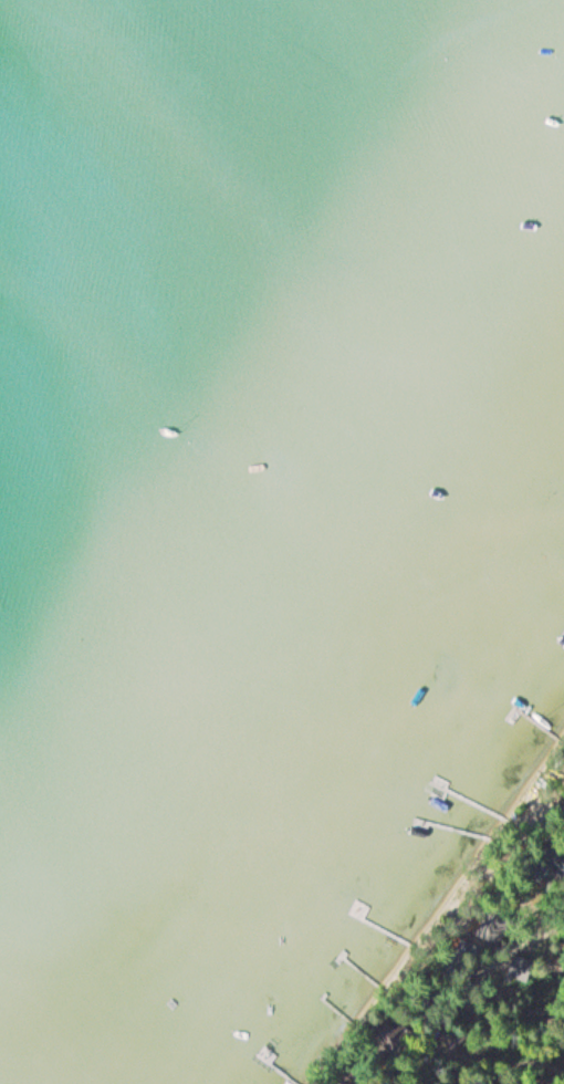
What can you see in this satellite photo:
building: (552, 866)
road: (464, 1018)

